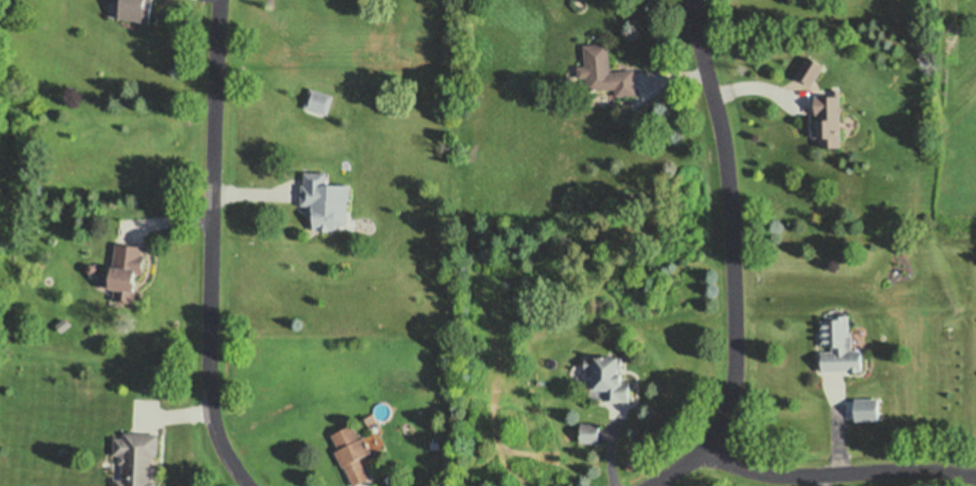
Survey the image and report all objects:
building: (136, 8)
building: (810, 65)
building: (606, 67)
building: (319, 98)
building: (829, 115)
building: (325, 196)
road: (213, 247)
road: (734, 260)
building: (92, 264)
building: (126, 267)
building: (839, 341)
building: (610, 371)
building: (867, 404)
building: (591, 429)
building: (353, 448)
building: (135, 457)
road: (838, 473)
building: (396, 482)

